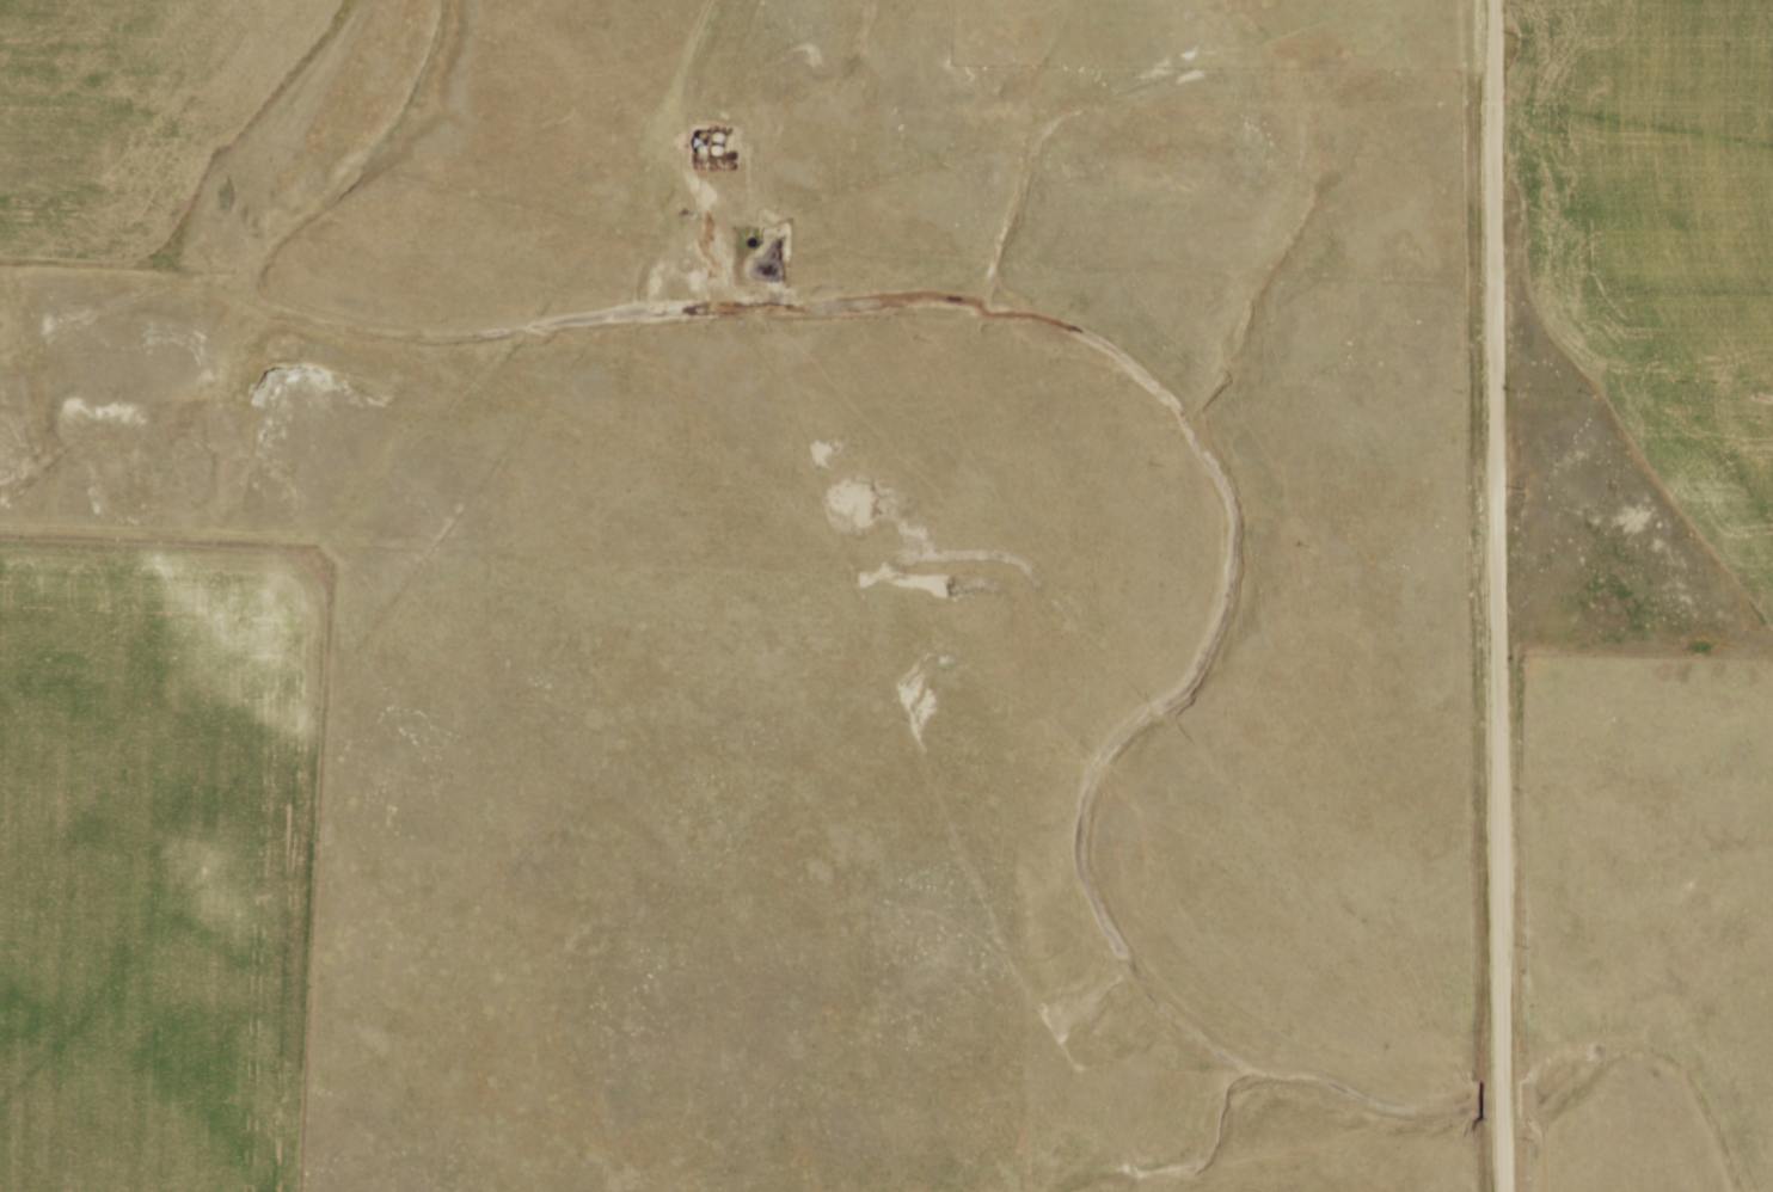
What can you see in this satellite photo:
crop: (129, 112)
crop: (1659, 234)
road: (1498, 539)
crop: (157, 862)
road: (1505, 1099)
road: (1505, 1155)

